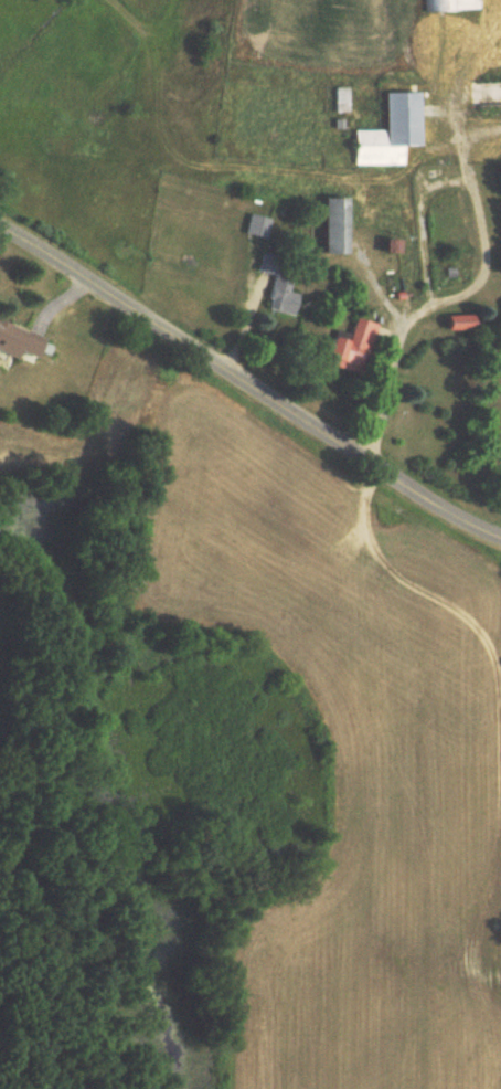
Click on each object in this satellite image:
building: (448, 4)
building: (384, 131)
building: (327, 225)
building: (255, 226)
building: (276, 284)
road: (458, 295)
building: (452, 323)
building: (19, 342)
building: (347, 347)
road: (249, 385)

